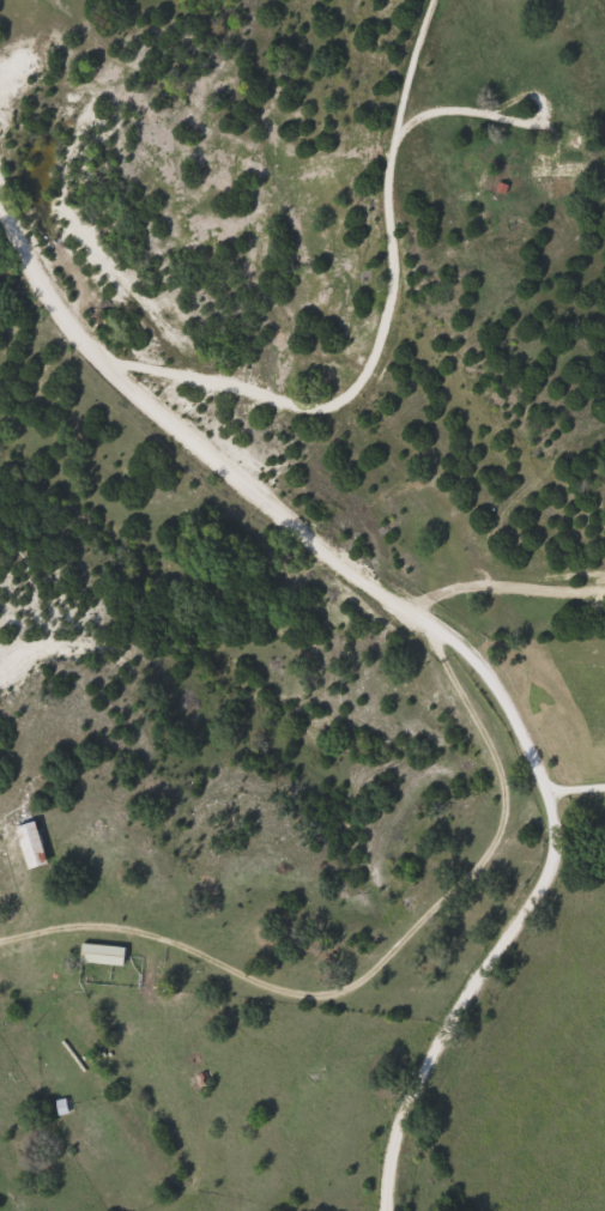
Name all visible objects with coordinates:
building: (574, 139)
building: (555, 168)
road: (353, 369)
road: (453, 635)
road: (579, 791)
building: (32, 843)
building: (103, 952)
road: (383, 959)
building: (63, 1104)

